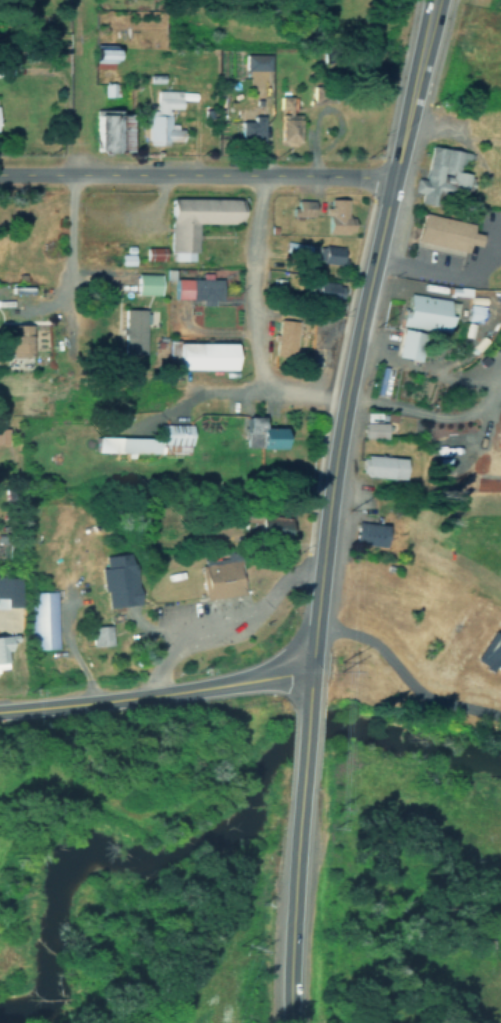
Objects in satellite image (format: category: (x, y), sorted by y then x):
building: (97, 51)
road: (440, 51)
building: (254, 62)
building: (152, 77)
building: (108, 87)
road: (395, 91)
building: (320, 92)
building: (161, 119)
building: (286, 119)
building: (110, 129)
building: (245, 135)
building: (435, 170)
road: (192, 174)
building: (295, 202)
building: (332, 211)
building: (185, 216)
building: (435, 225)
building: (296, 248)
building: (325, 248)
building: (118, 250)
parking lot: (450, 251)
building: (153, 254)
building: (140, 274)
road: (70, 278)
road: (251, 283)
building: (147, 284)
building: (173, 284)
building: (196, 290)
building: (326, 290)
building: (417, 313)
building: (473, 313)
building: (129, 321)
building: (278, 330)
building: (500, 337)
building: (18, 341)
building: (196, 344)
building: (409, 344)
building: (499, 358)
road: (350, 362)
building: (375, 373)
road: (171, 386)
road: (431, 413)
building: (373, 415)
building: (259, 420)
building: (373, 430)
building: (144, 434)
building: (260, 435)
building: (3, 436)
crop: (475, 455)
building: (378, 458)
building: (362, 525)
building: (268, 527)
building: (353, 557)
building: (112, 569)
building: (217, 570)
building: (8, 592)
road: (215, 611)
building: (32, 612)
parking lot: (209, 616)
road: (212, 633)
building: (100, 635)
road: (443, 640)
building: (4, 647)
building: (490, 653)
road: (406, 675)
road: (153, 690)
road: (301, 760)
river: (218, 834)
road: (291, 905)

